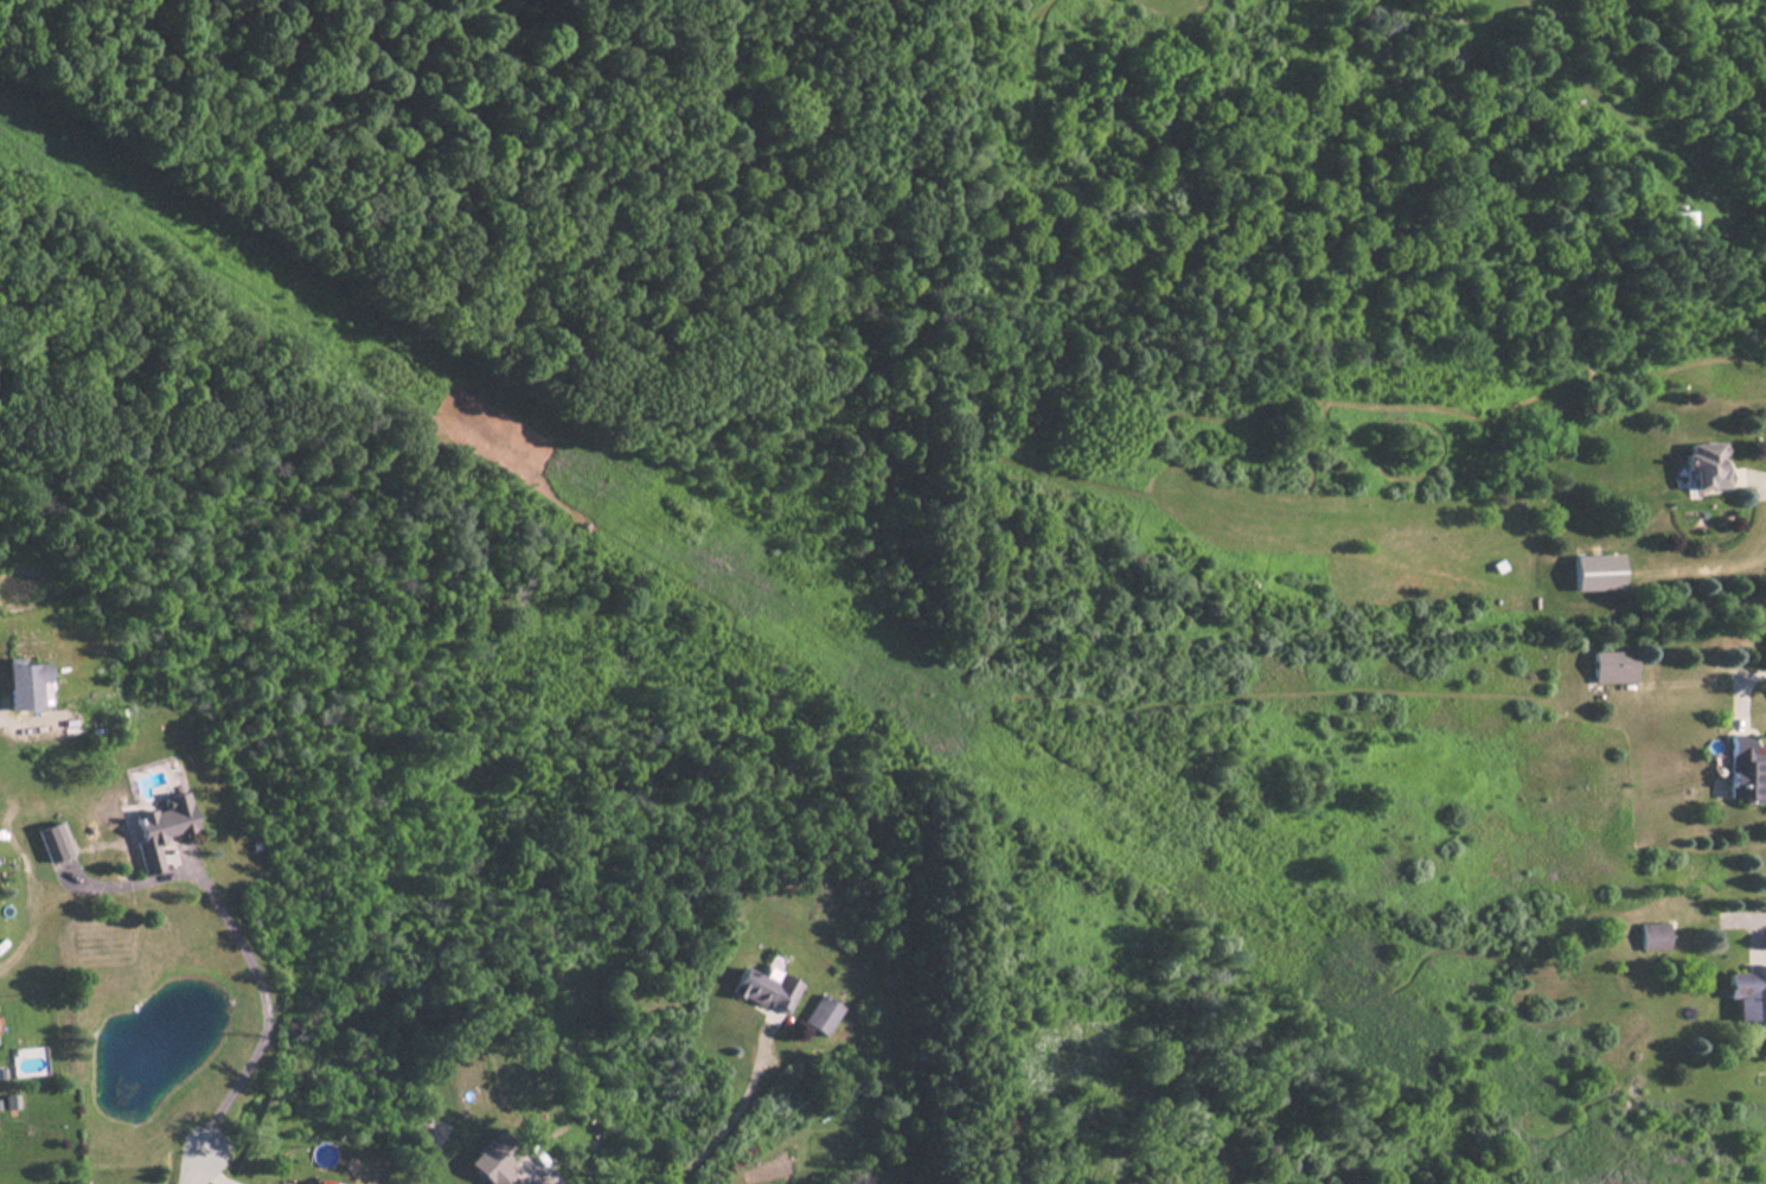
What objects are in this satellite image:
building: (1681, 224)
building: (1707, 465)
road: (1765, 476)
building: (1598, 571)
building: (66, 653)
building: (1613, 666)
road: (1757, 671)
building: (26, 676)
building: (1745, 772)
building: (160, 827)
building: (53, 841)
road: (1762, 910)
building: (1653, 936)
building: (766, 988)
building: (1749, 997)
road: (267, 1001)
building: (820, 1015)
road: (728, 1118)
building: (494, 1159)
road: (194, 1169)
building: (316, 1182)

